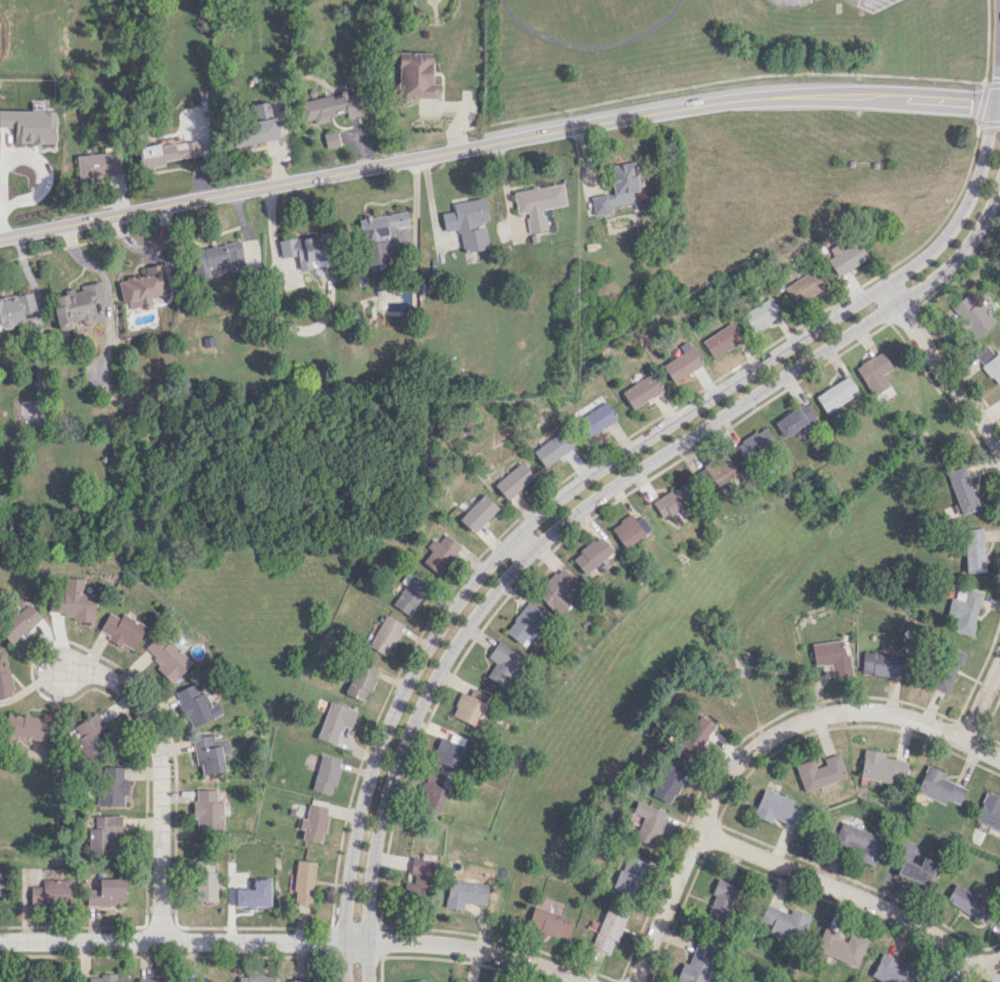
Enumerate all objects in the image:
road: (987, 42)
building: (416, 76)
road: (722, 80)
road: (952, 100)
traffic signals: (970, 102)
building: (332, 107)
road: (979, 108)
building: (257, 126)
building: (331, 139)
building: (166, 151)
road: (450, 151)
building: (98, 164)
building: (616, 188)
road: (997, 189)
building: (538, 203)
building: (468, 223)
building: (379, 234)
building: (304, 251)
building: (226, 256)
building: (846, 257)
building: (806, 285)
building: (142, 287)
building: (402, 300)
building: (75, 305)
building: (15, 309)
building: (762, 313)
building: (972, 315)
building: (722, 339)
building: (206, 344)
building: (681, 361)
building: (989, 362)
road: (941, 371)
building: (873, 372)
building: (640, 390)
building: (835, 394)
building: (595, 419)
building: (791, 420)
building: (751, 442)
building: (551, 448)
building: (715, 470)
building: (513, 480)
road: (581, 481)
building: (961, 490)
building: (669, 501)
building: (477, 512)
road: (574, 512)
building: (628, 529)
building: (973, 550)
building: (440, 552)
building: (590, 554)
building: (554, 591)
building: (409, 593)
building: (73, 600)
building: (964, 609)
building: (18, 623)
building: (524, 623)
building: (122, 629)
building: (385, 635)
building: (166, 656)
building: (831, 656)
building: (501, 662)
building: (880, 663)
building: (946, 668)
building: (4, 679)
building: (361, 680)
road: (981, 700)
building: (195, 704)
building: (467, 705)
building: (334, 721)
building: (25, 726)
building: (88, 733)
building: (696, 736)
building: (207, 748)
road: (753, 748)
building: (447, 751)
building: (881, 767)
road: (161, 771)
building: (819, 772)
building: (325, 774)
building: (667, 783)
building: (111, 786)
building: (938, 786)
building: (432, 790)
building: (775, 807)
building: (989, 811)
building: (207, 814)
building: (648, 822)
building: (314, 823)
building: (103, 832)
building: (857, 841)
building: (917, 870)
building: (629, 874)
building: (418, 875)
building: (206, 879)
building: (0, 881)
building: (303, 882)
building: (51, 892)
building: (107, 892)
building: (465, 893)
building: (254, 894)
road: (849, 894)
building: (721, 901)
building: (968, 902)
building: (549, 922)
building: (784, 922)
building: (608, 929)
road: (293, 941)
building: (840, 946)
building: (697, 963)
road: (995, 968)
building: (890, 970)
building: (107, 978)
building: (154, 979)
building: (255, 979)
building: (202, 980)
building: (298, 980)
building: (415, 980)
building: (734, 981)

